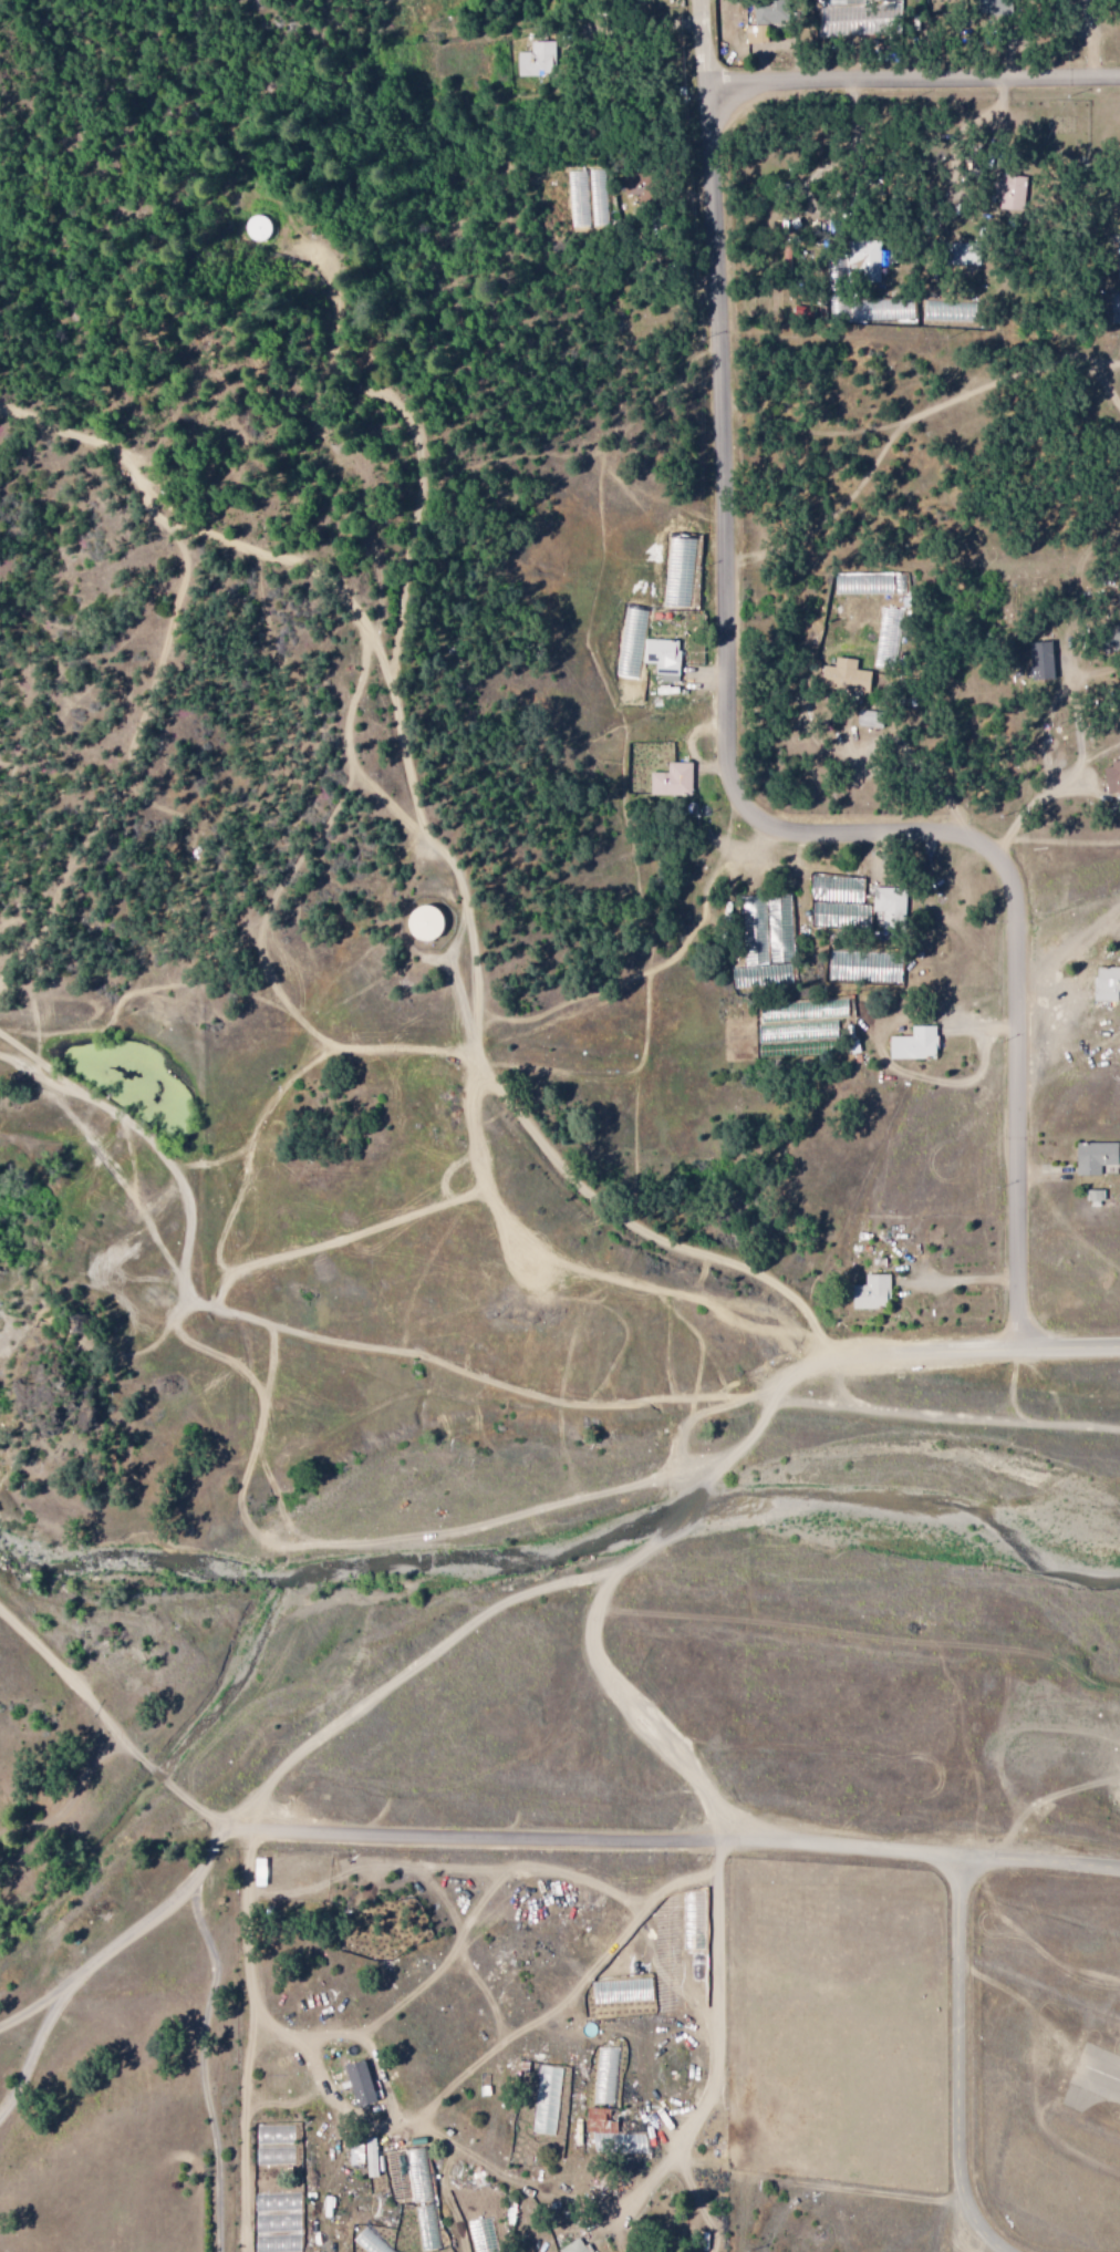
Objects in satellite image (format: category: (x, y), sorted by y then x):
building: (999, 7)
building: (770, 12)
building: (755, 34)
road: (702, 55)
building: (536, 60)
road: (909, 73)
building: (1013, 194)
building: (258, 228)
building: (865, 255)
building: (971, 255)
building: (663, 658)
building: (1044, 661)
building: (846, 676)
building: (872, 719)
building: (1112, 776)
building: (671, 781)
road: (779, 820)
road: (435, 847)
building: (891, 906)
building: (426, 922)
building: (1107, 983)
building: (914, 1044)
building: (1096, 1157)
road: (187, 1167)
building: (1096, 1198)
building: (873, 1293)
road: (706, 1394)
road: (610, 1607)
road: (319, 1835)
road: (920, 1848)
road: (966, 2055)
airport: (1051, 2068)
airport runway: (1098, 2073)
building: (362, 2083)
building: (545, 2099)
building: (602, 2120)
building: (371, 2157)
building: (574, 2246)

